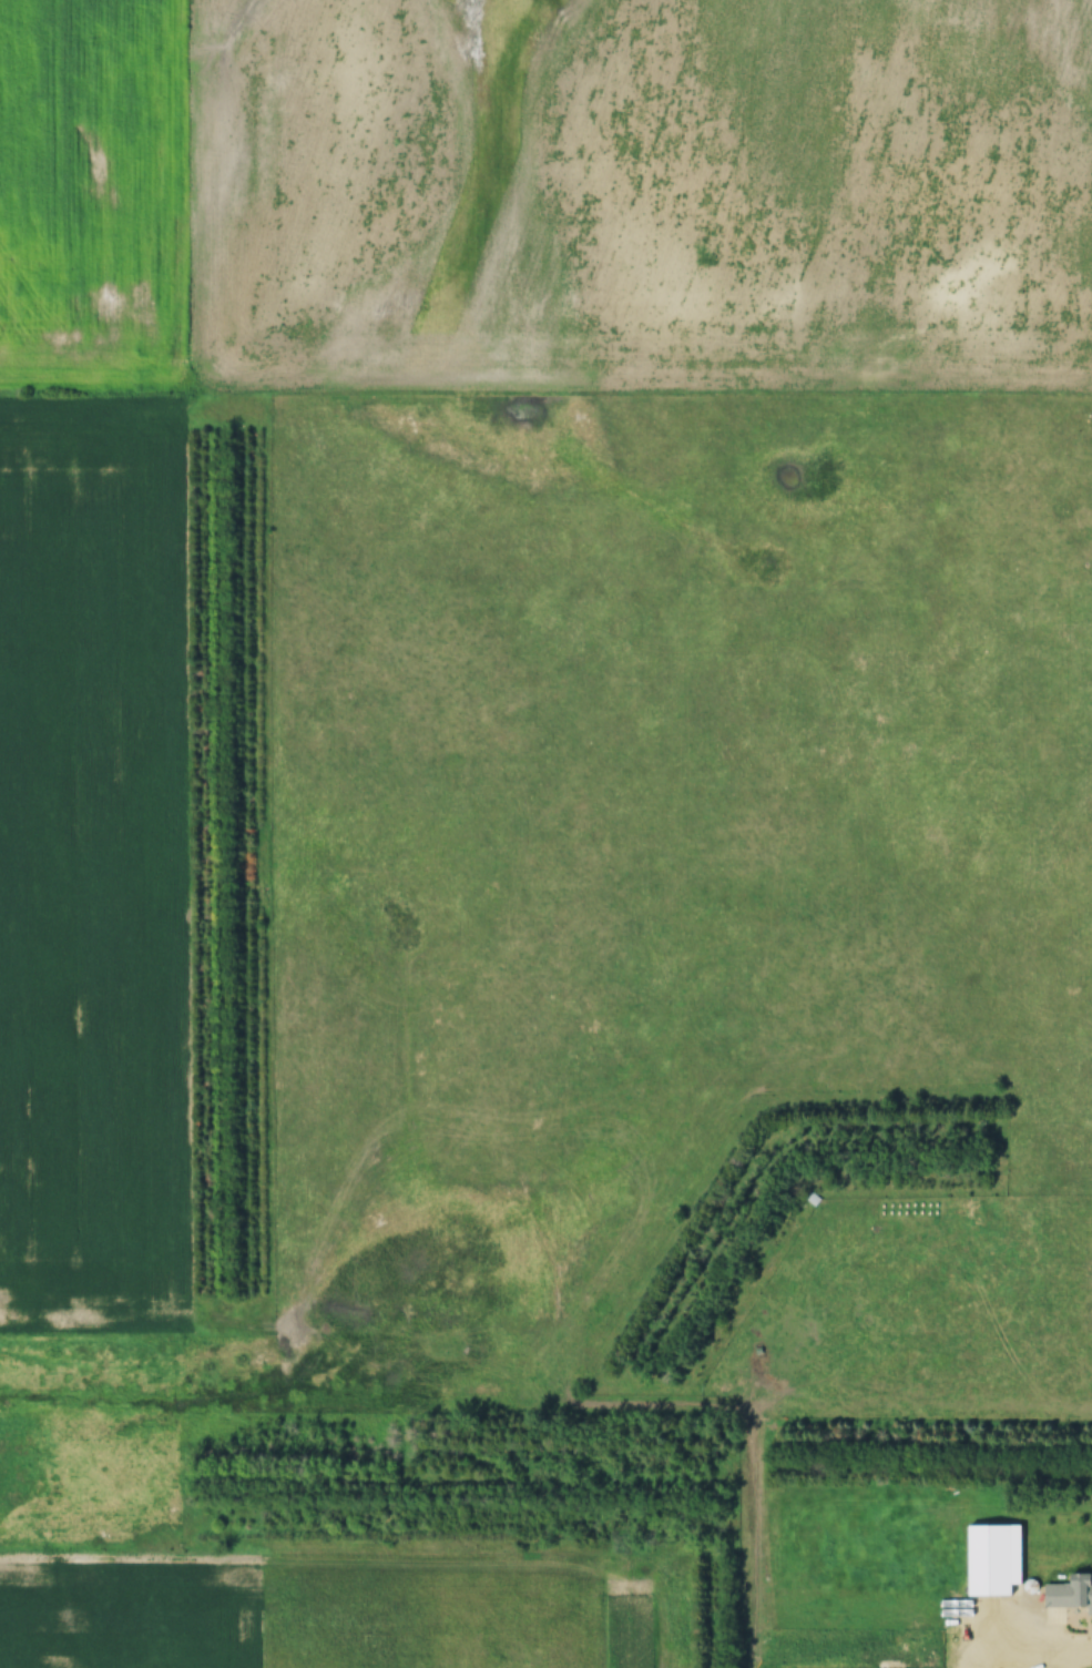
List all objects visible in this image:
building: (996, 1560)
building: (1071, 1594)
road: (1039, 1647)
building: (930, 1649)

